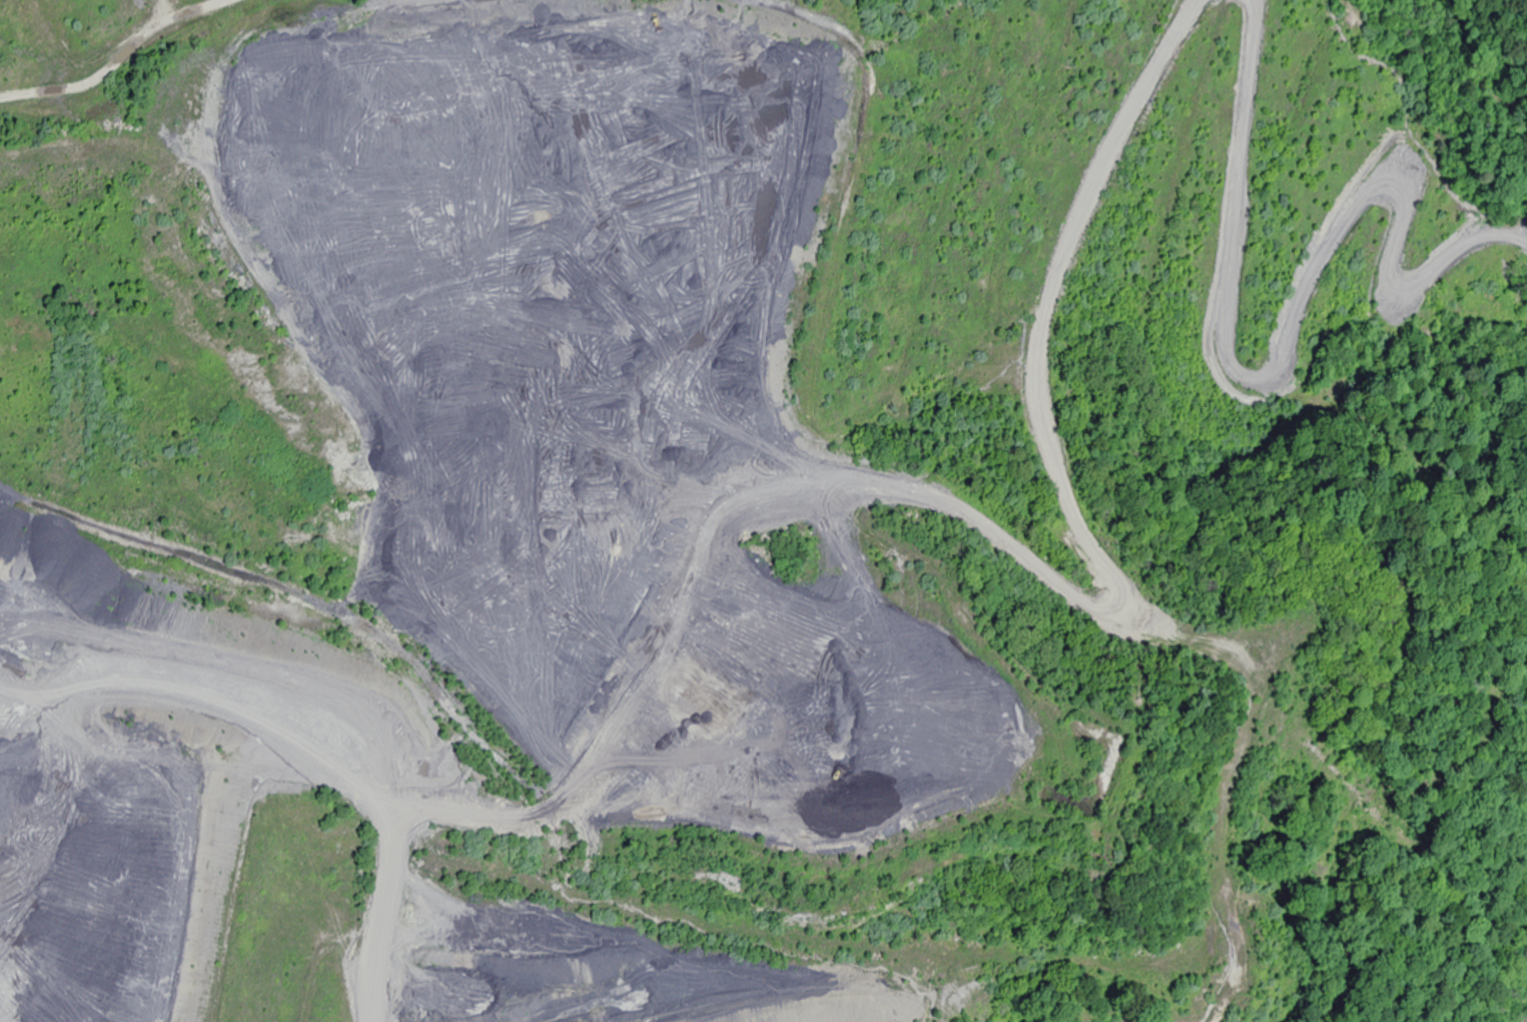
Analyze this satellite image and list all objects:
quarry: (763, 511)

